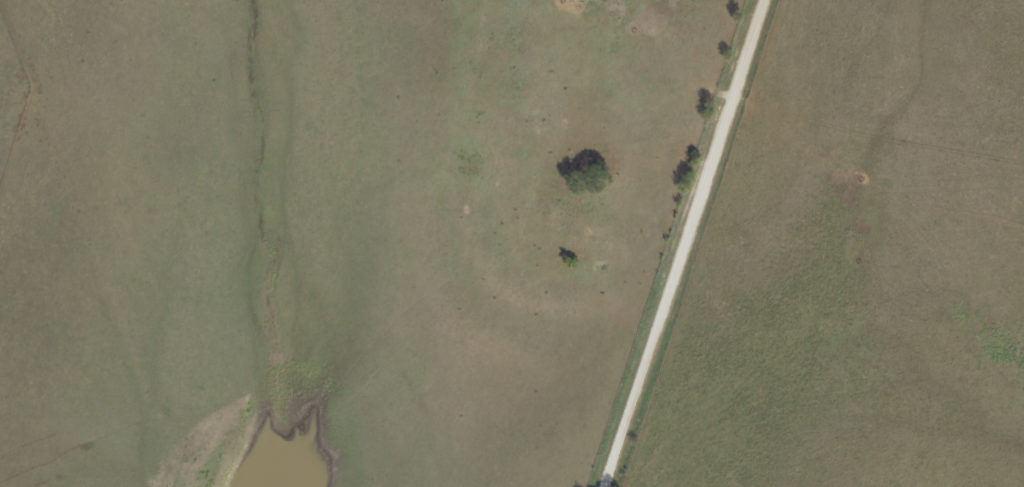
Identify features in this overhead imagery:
road: (685, 243)

